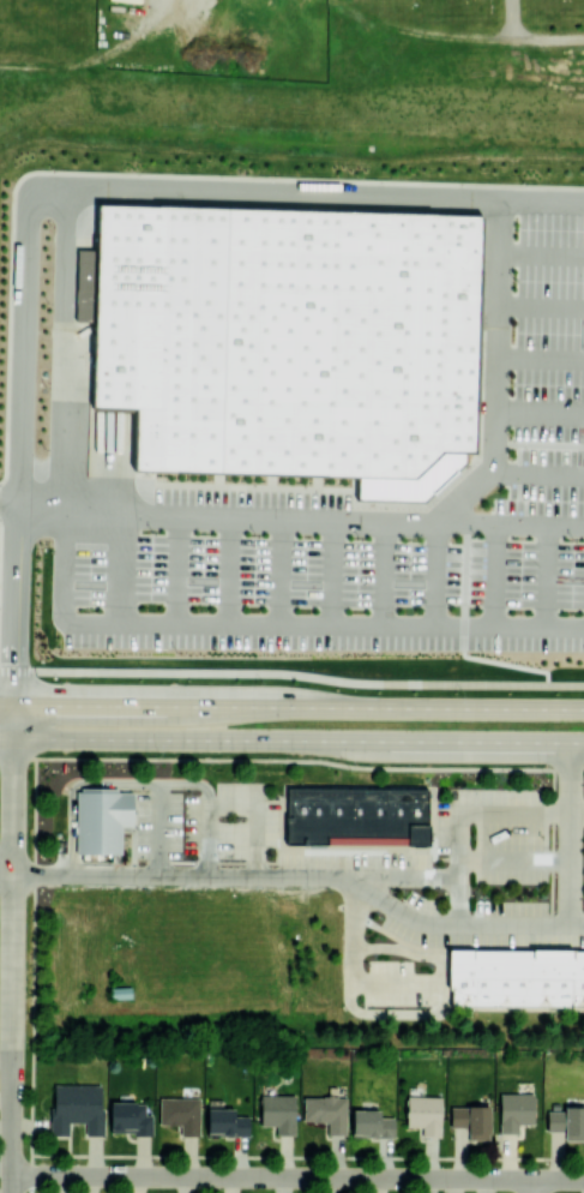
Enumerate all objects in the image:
road: (510, 17)
park: (309, 35)
road: (94, 58)
road: (46, 185)
road: (542, 256)
road: (499, 304)
road: (541, 307)
building: (295, 338)
road: (70, 348)
road: (541, 359)
road: (541, 412)
road: (540, 444)
road: (520, 457)
road: (540, 472)
road: (487, 478)
road: (6, 499)
road: (222, 520)
road: (508, 527)
road: (120, 572)
road: (180, 572)
road: (235, 574)
road: (283, 574)
road: (336, 575)
road: (384, 575)
road: (433, 576)
road: (498, 577)
road: (548, 577)
road: (269, 627)
road: (463, 639)
road: (291, 672)
road: (291, 707)
road: (291, 739)
road: (291, 759)
road: (72, 785)
road: (207, 807)
road: (255, 815)
building: (361, 815)
road: (577, 815)
road: (462, 816)
building: (101, 819)
road: (158, 828)
road: (570, 832)
road: (514, 861)
road: (6, 867)
road: (303, 876)
road: (408, 876)
road: (13, 893)
building: (516, 977)
road: (397, 983)
road: (409, 1017)
building: (77, 1108)
building: (514, 1110)
building: (278, 1111)
building: (326, 1111)
building: (180, 1114)
building: (425, 1114)
building: (130, 1117)
building: (471, 1120)
building: (567, 1121)
building: (225, 1122)
building: (371, 1123)
road: (12, 1137)
road: (297, 1176)
road: (534, 1186)

